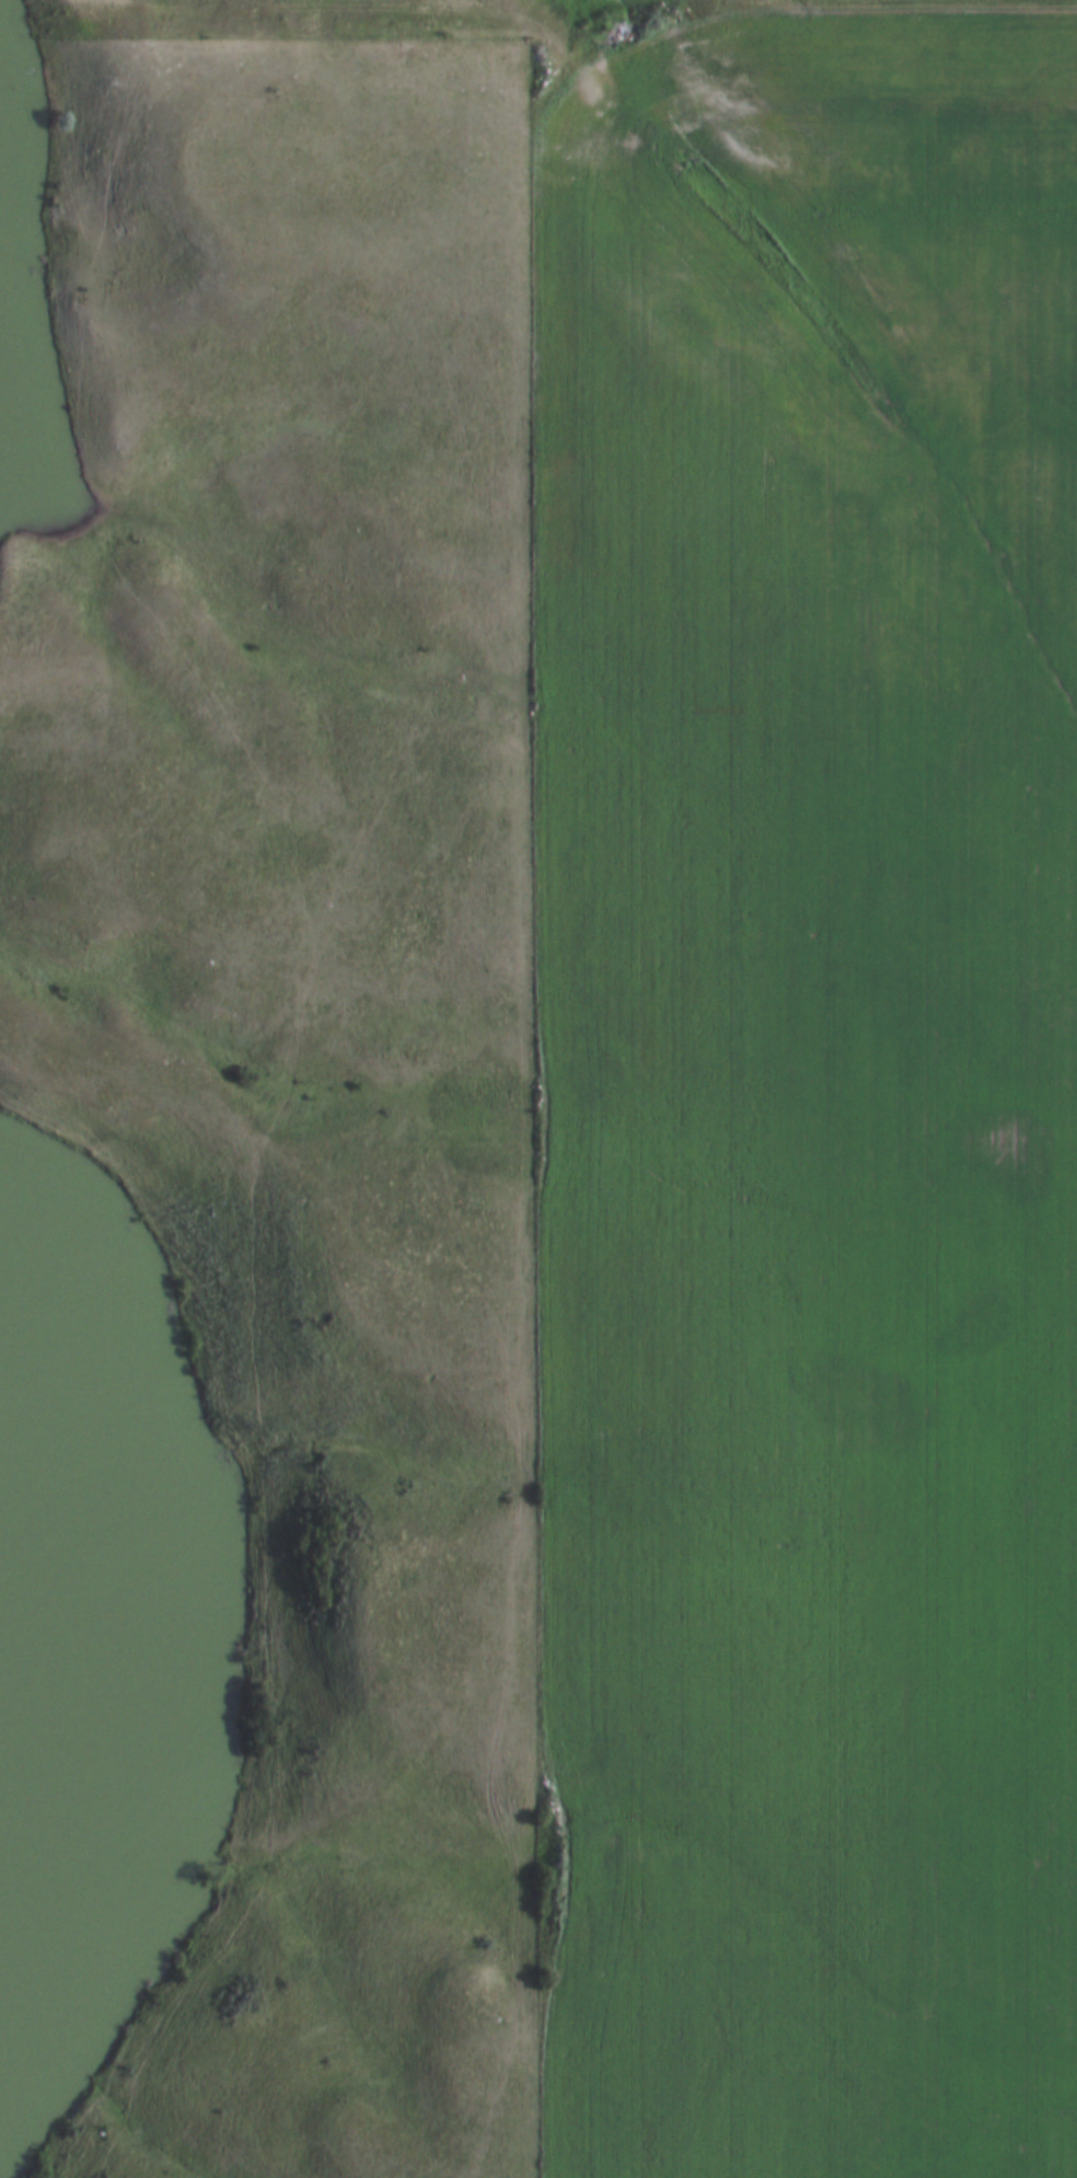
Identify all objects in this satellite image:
road: (935, 8)

